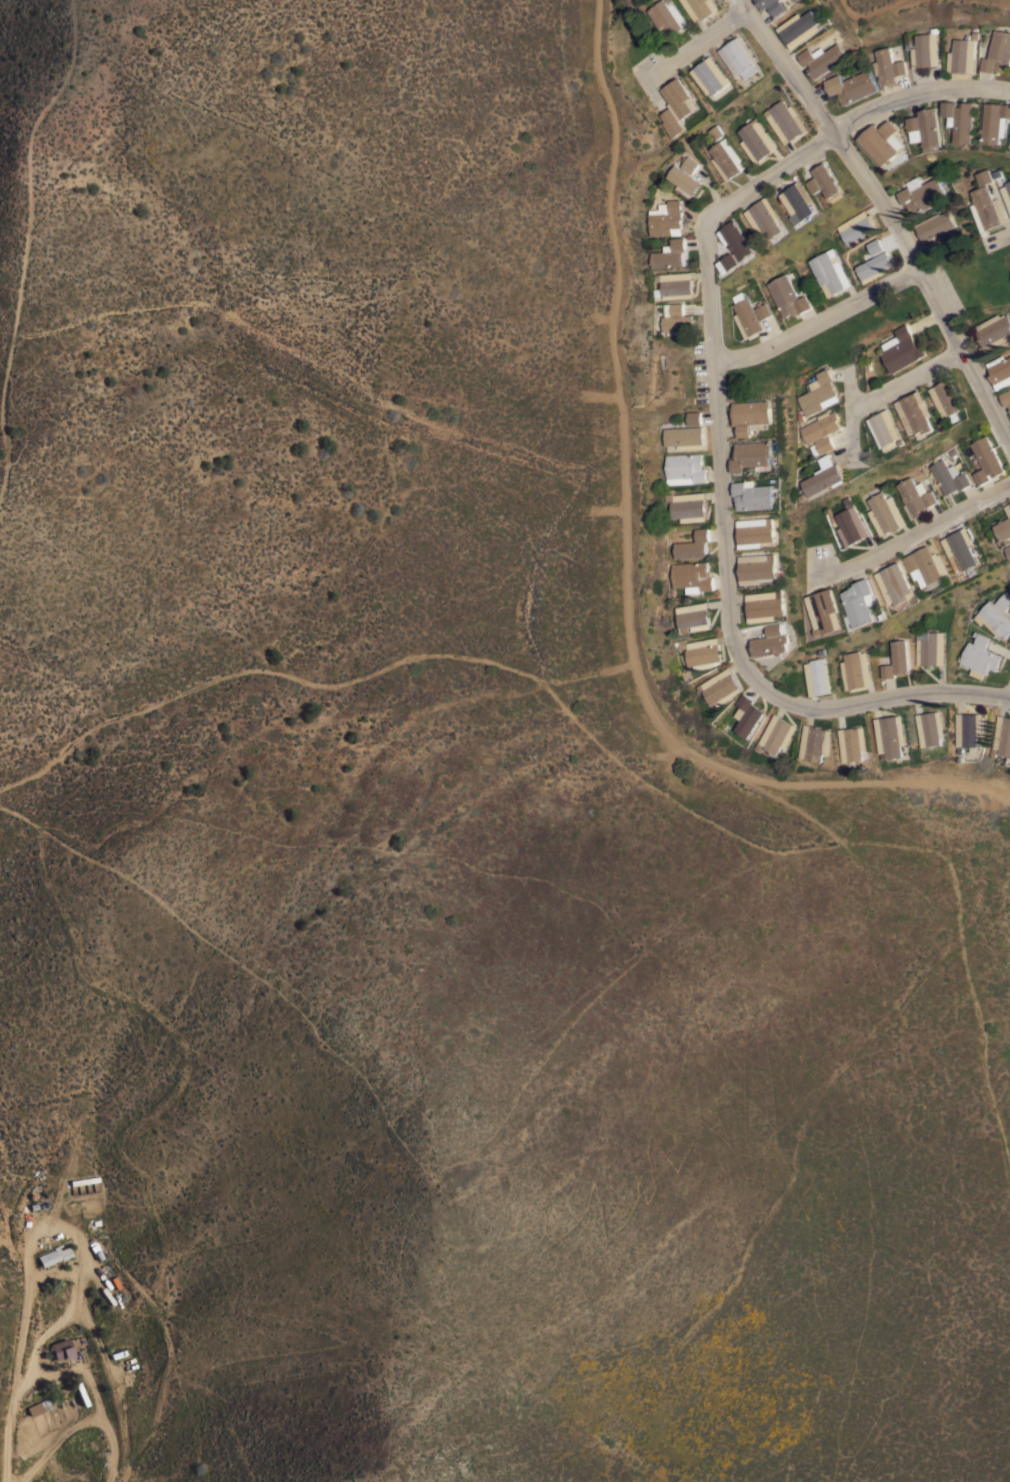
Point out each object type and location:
building: (772, 5)
building: (700, 8)
building: (666, 17)
building: (798, 28)
road: (697, 44)
building: (907, 45)
building: (925, 49)
building: (998, 52)
building: (962, 55)
building: (740, 57)
building: (821, 58)
building: (887, 66)
building: (710, 75)
building: (852, 85)
road: (913, 90)
building: (676, 106)
building: (961, 119)
building: (785, 120)
building: (995, 121)
building: (926, 127)
building: (714, 133)
building: (755, 140)
building: (883, 141)
building: (726, 158)
building: (689, 163)
building: (983, 176)
building: (684, 181)
building: (825, 181)
building: (1005, 190)
building: (921, 194)
building: (800, 202)
building: (987, 208)
road: (883, 215)
building: (665, 218)
building: (767, 218)
building: (934, 225)
building: (858, 226)
building: (949, 237)
road: (1004, 237)
building: (739, 240)
building: (875, 245)
building: (670, 254)
building: (729, 262)
building: (875, 266)
building: (829, 272)
building: (673, 285)
building: (787, 296)
building: (764, 311)
building: (745, 315)
road: (819, 320)
building: (678, 321)
building: (994, 331)
building: (902, 348)
building: (1000, 371)
road: (893, 387)
building: (819, 392)
building: (1006, 397)
building: (949, 398)
building: (917, 413)
building: (753, 415)
building: (694, 417)
building: (821, 426)
building: (887, 429)
building: (683, 436)
building: (823, 445)
building: (753, 455)
building: (987, 460)
building: (684, 468)
building: (825, 476)
building: (949, 476)
building: (755, 495)
building: (916, 497)
building: (686, 506)
road: (722, 511)
building: (885, 513)
building: (850, 524)
building: (1003, 525)
building: (757, 531)
road: (912, 532)
building: (693, 545)
building: (962, 548)
building: (1007, 550)
building: (759, 567)
building: (928, 567)
building: (692, 576)
building: (896, 583)
building: (860, 602)
building: (766, 605)
building: (823, 611)
building: (692, 615)
building: (995, 615)
building: (772, 641)
building: (930, 647)
building: (702, 652)
building: (979, 655)
building: (896, 660)
building: (855, 670)
building: (818, 676)
building: (720, 687)
building: (747, 715)
building: (930, 727)
building: (968, 730)
building: (776, 734)
building: (890, 735)
building: (1002, 735)
building: (814, 742)
building: (852, 742)
building: (55, 1255)
building: (58, 1350)
road: (15, 1378)
building: (38, 1406)

